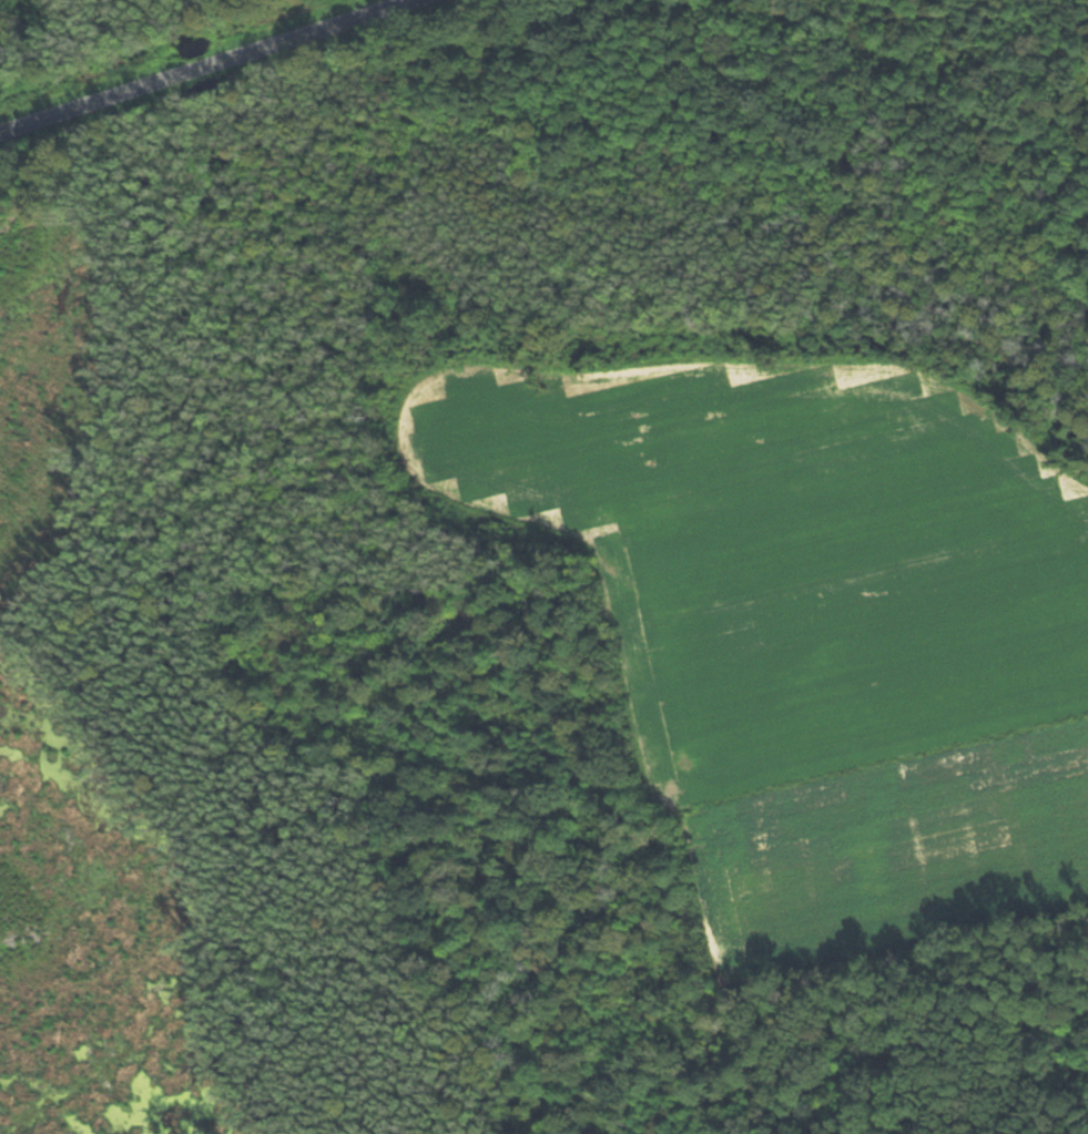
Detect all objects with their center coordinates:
road: (206, 69)

